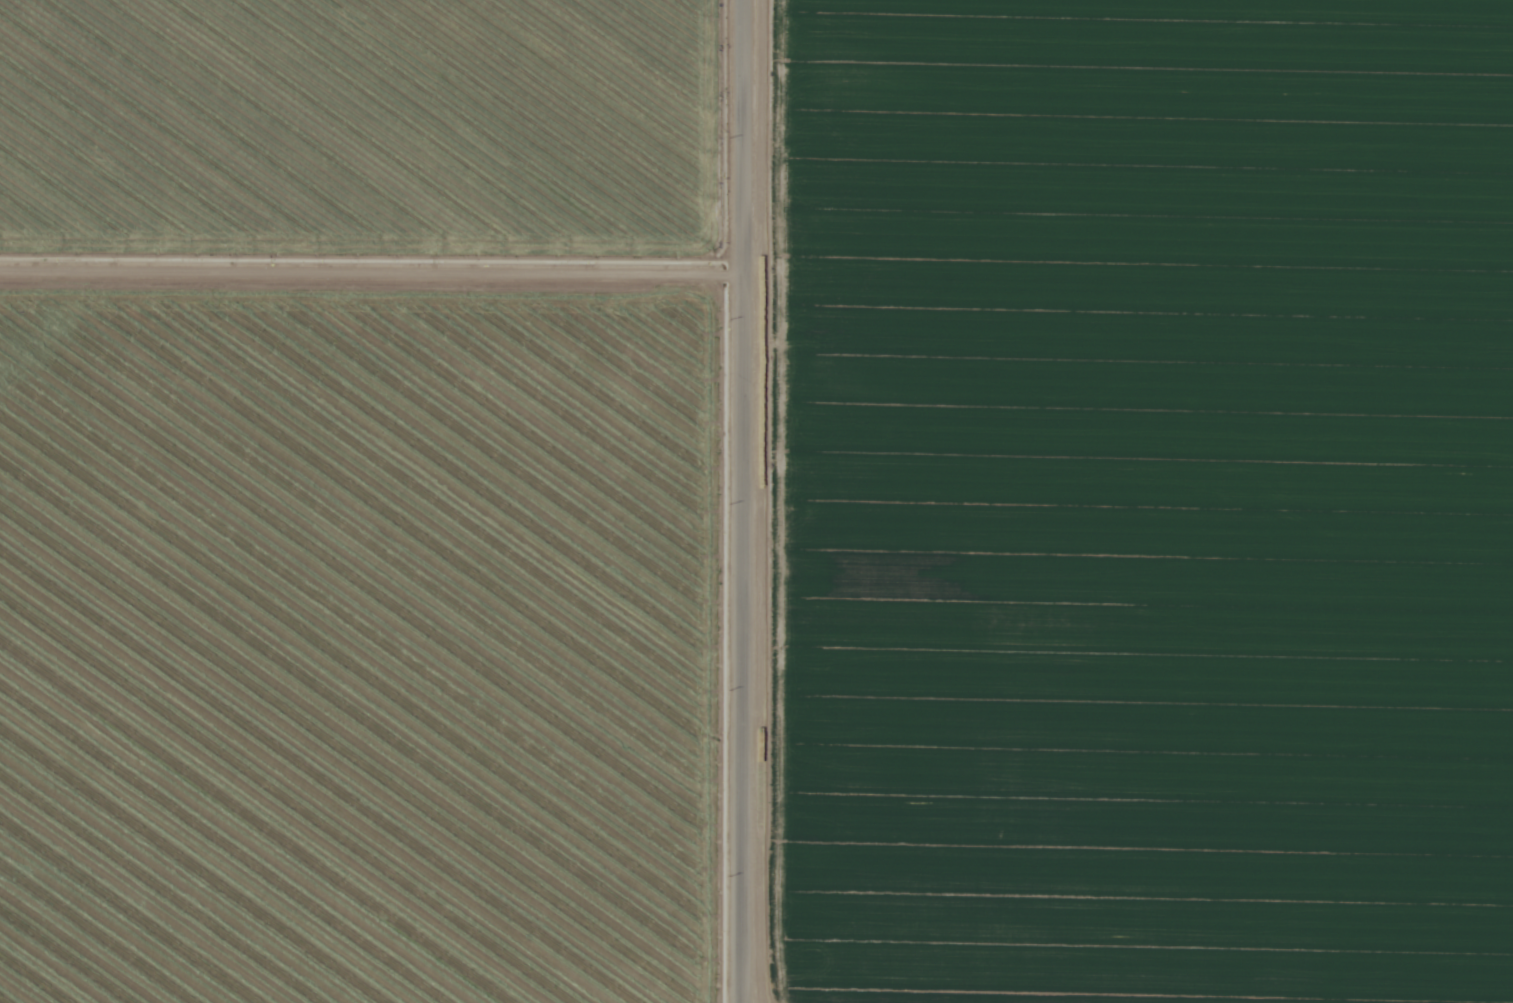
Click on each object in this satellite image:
building: (985, 23)
building: (1195, 55)
crop: (365, 128)
building: (1496, 186)
road: (749, 501)
crop: (1140, 501)
crop: (361, 642)
building: (1088, 655)

